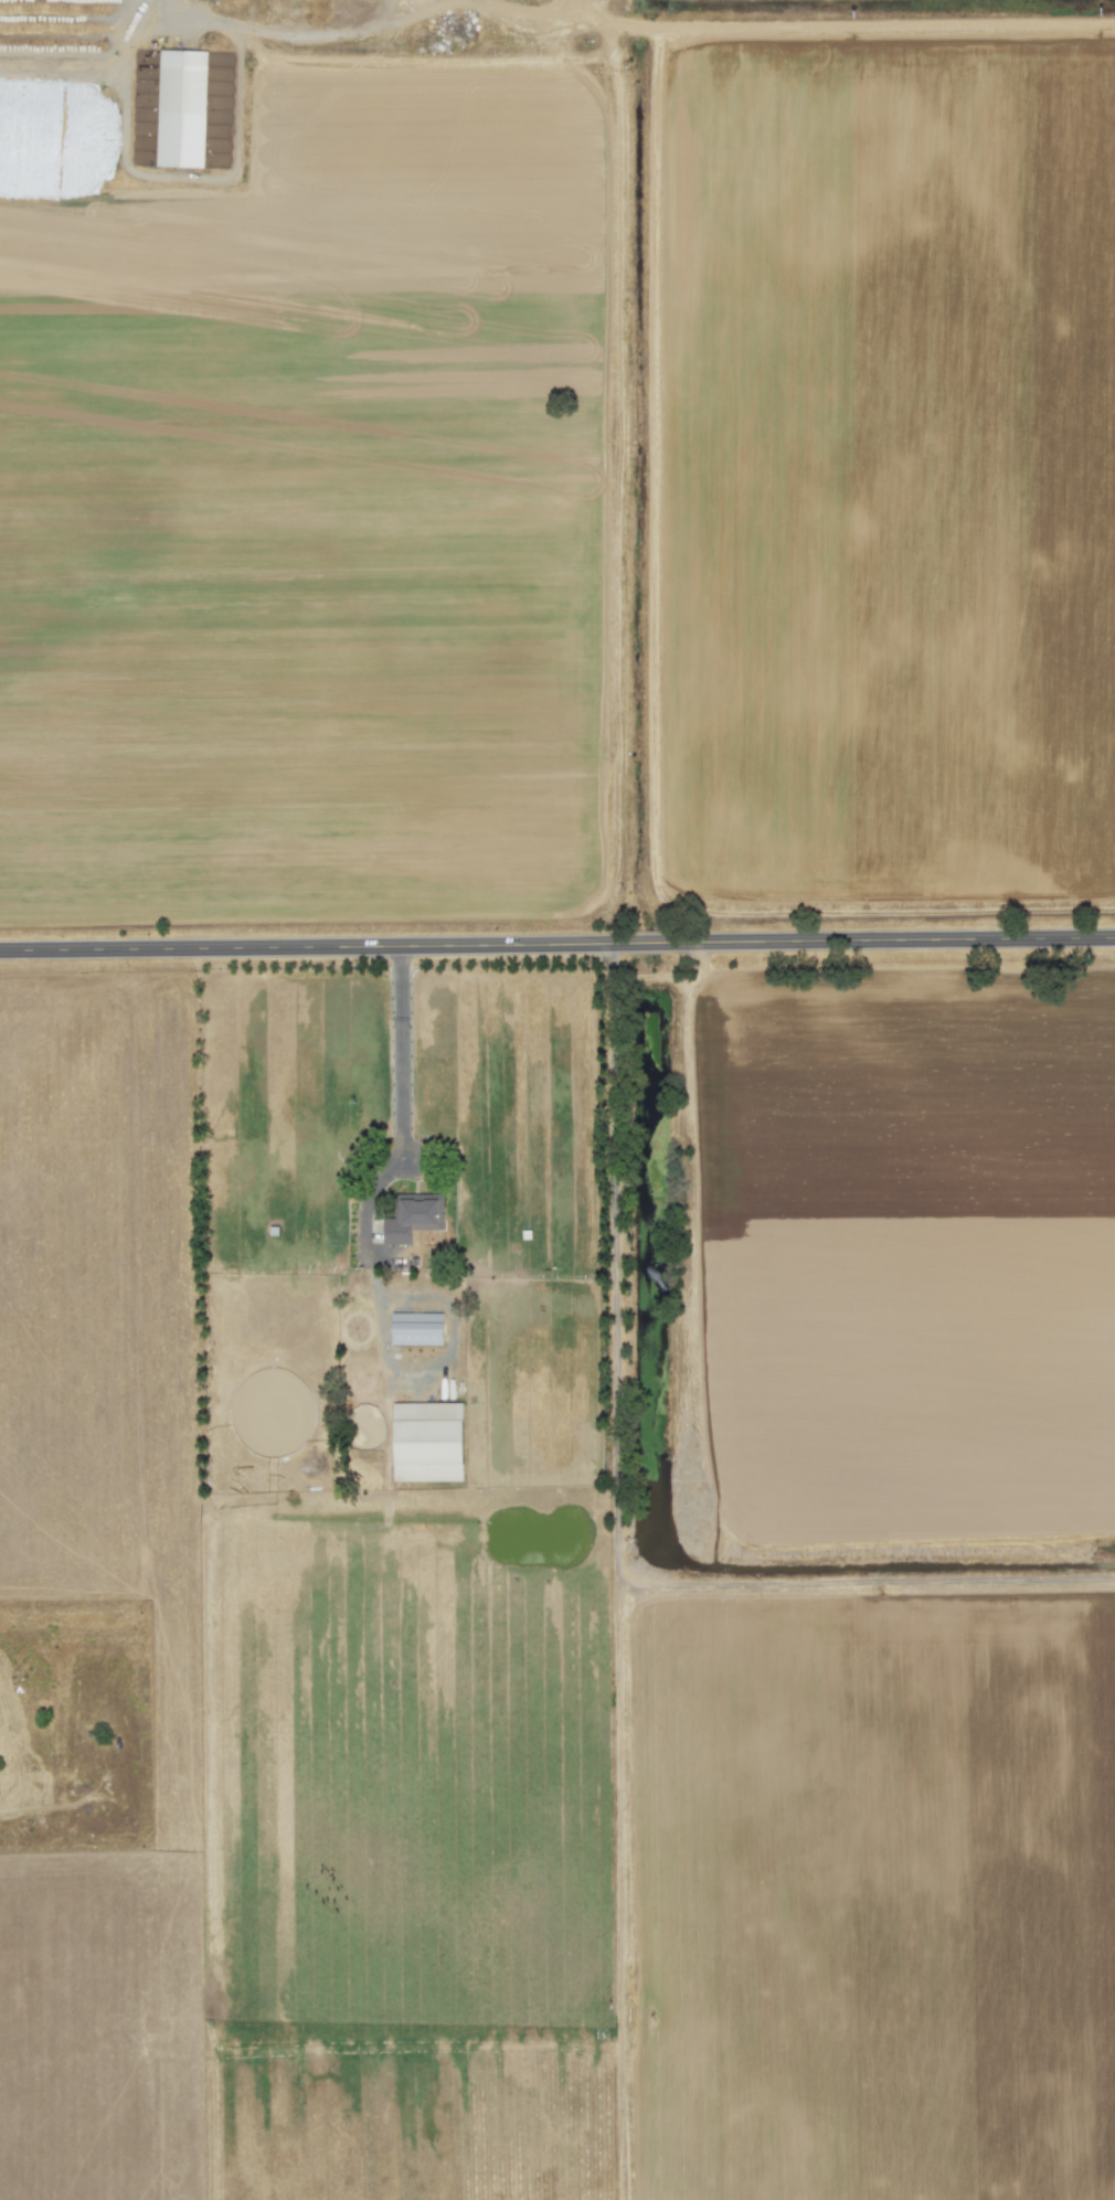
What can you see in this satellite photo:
road: (118, 28)
building: (180, 108)
road: (556, 947)
road: (399, 1051)
building: (413, 1218)
building: (416, 1329)
building: (428, 1442)

